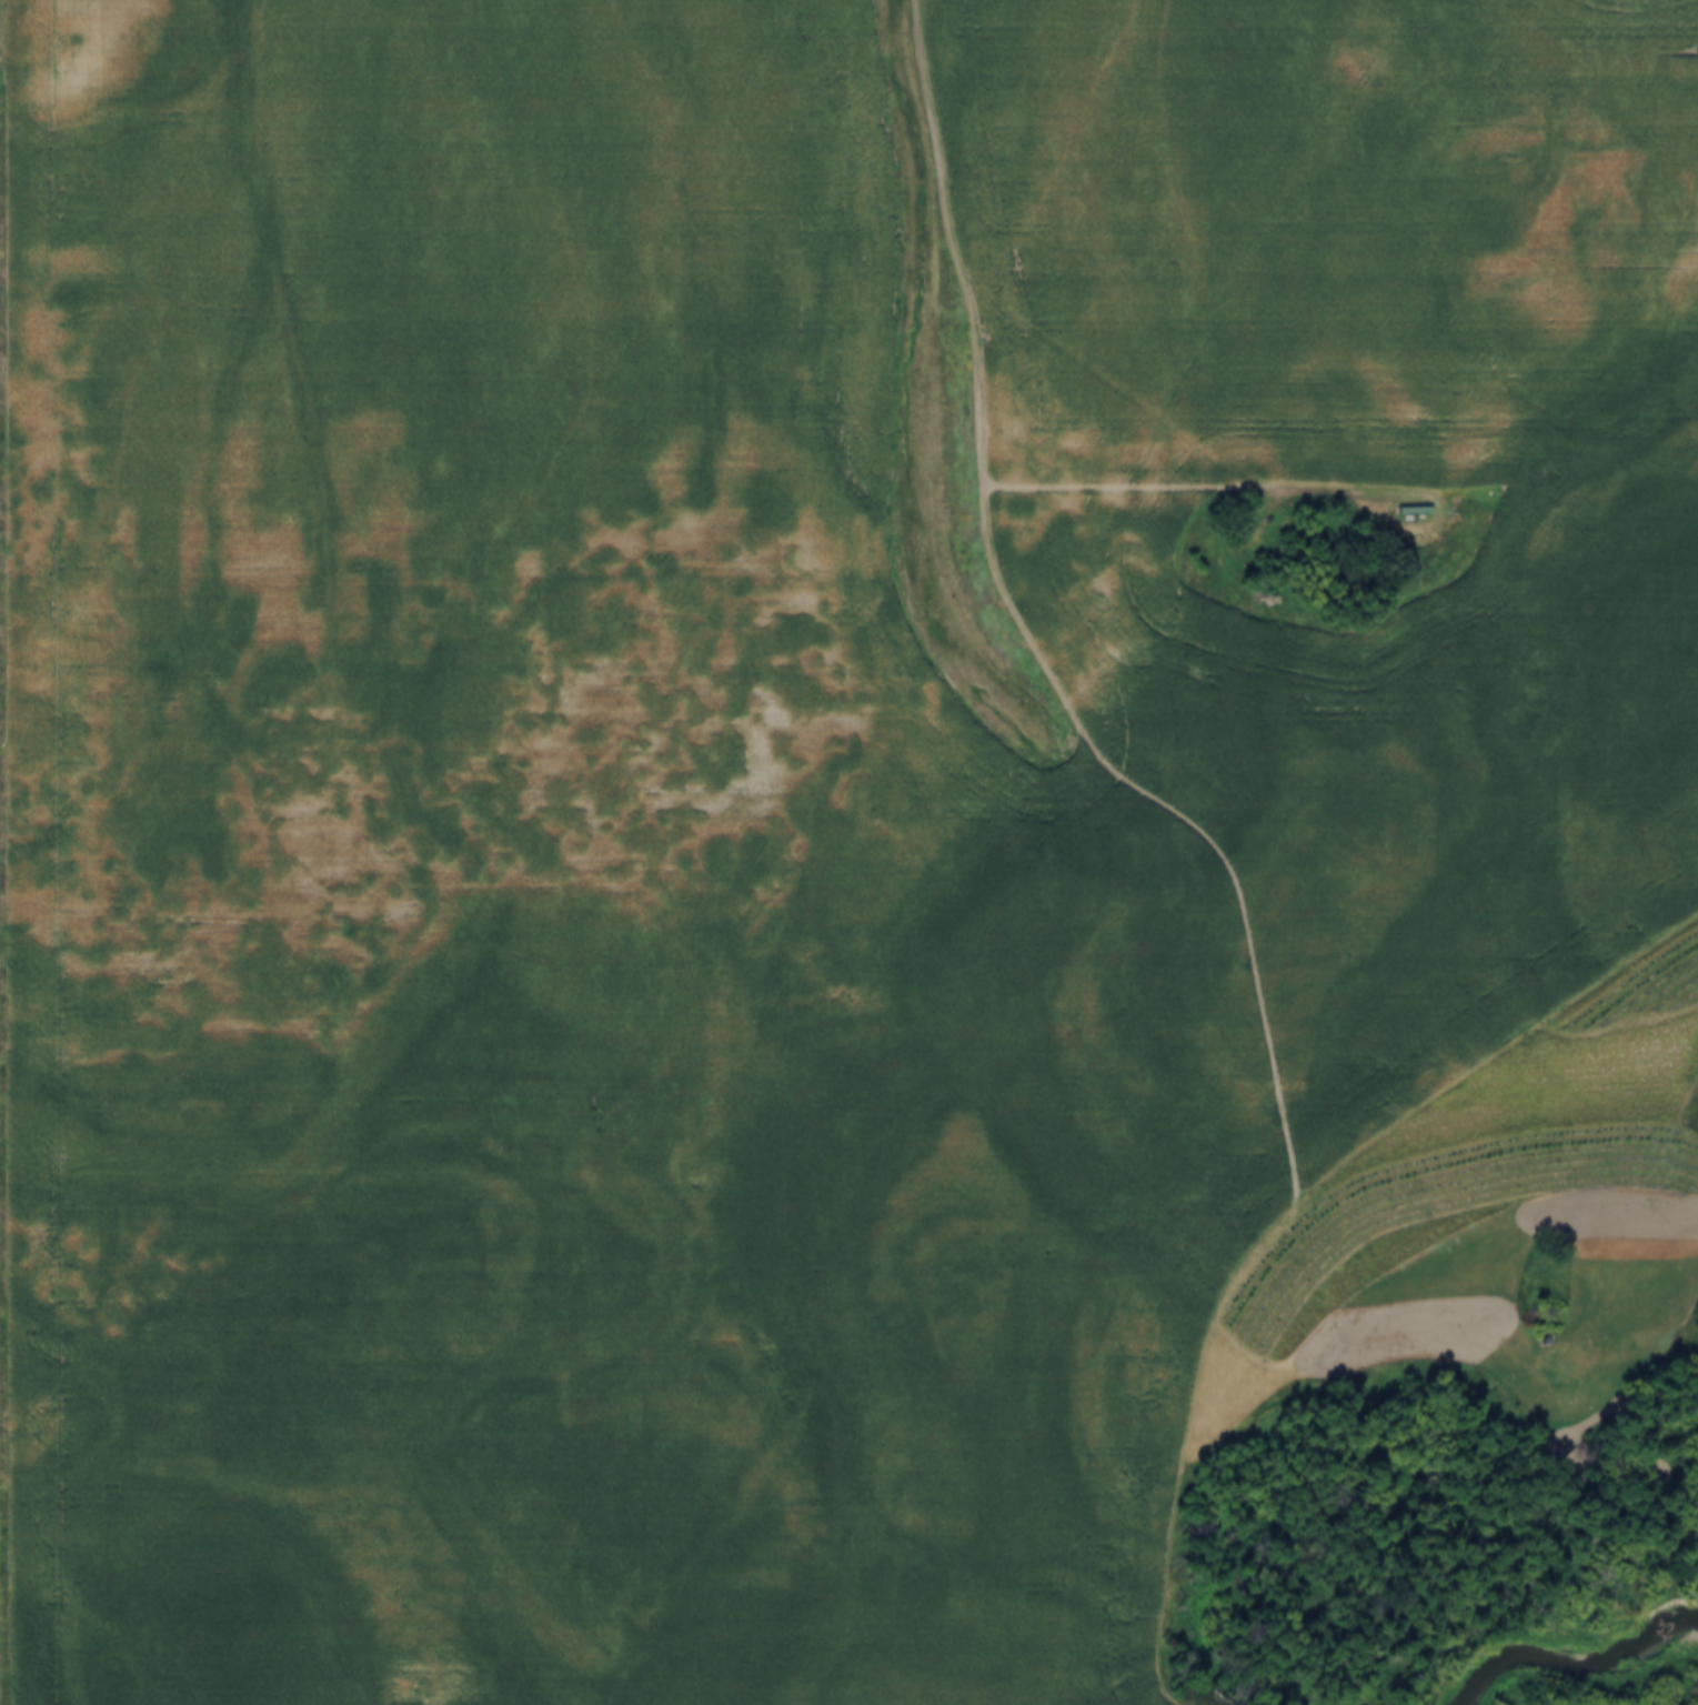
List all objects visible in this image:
building: (1410, 508)

